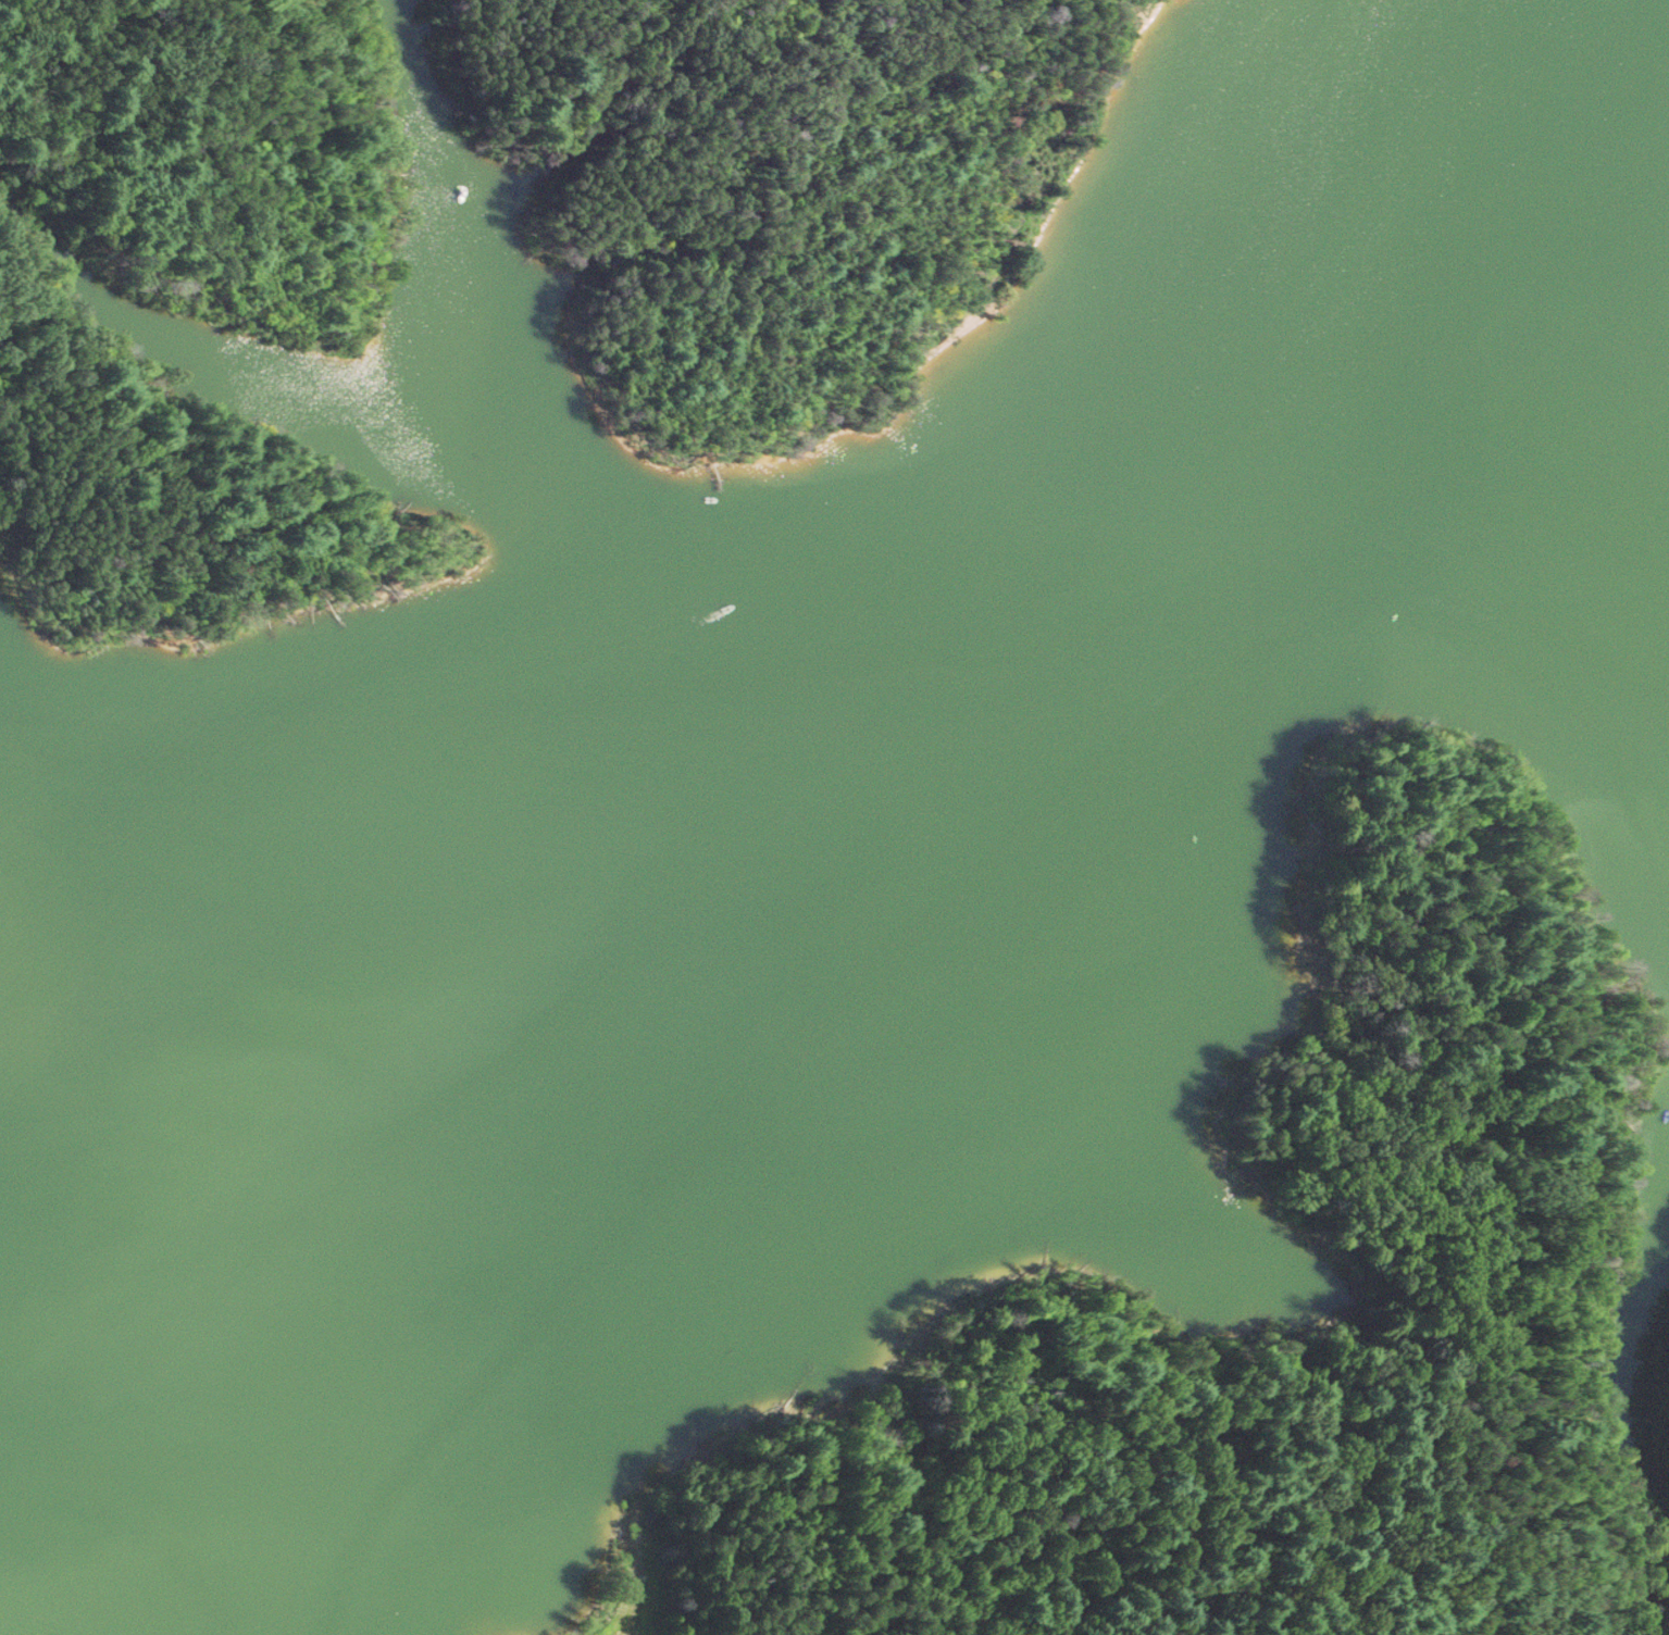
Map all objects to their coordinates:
river: (1562, 462)
river: (813, 963)
road: (1410, 1143)
road: (1161, 1553)
road: (636, 1600)
parking lot: (636, 1606)

